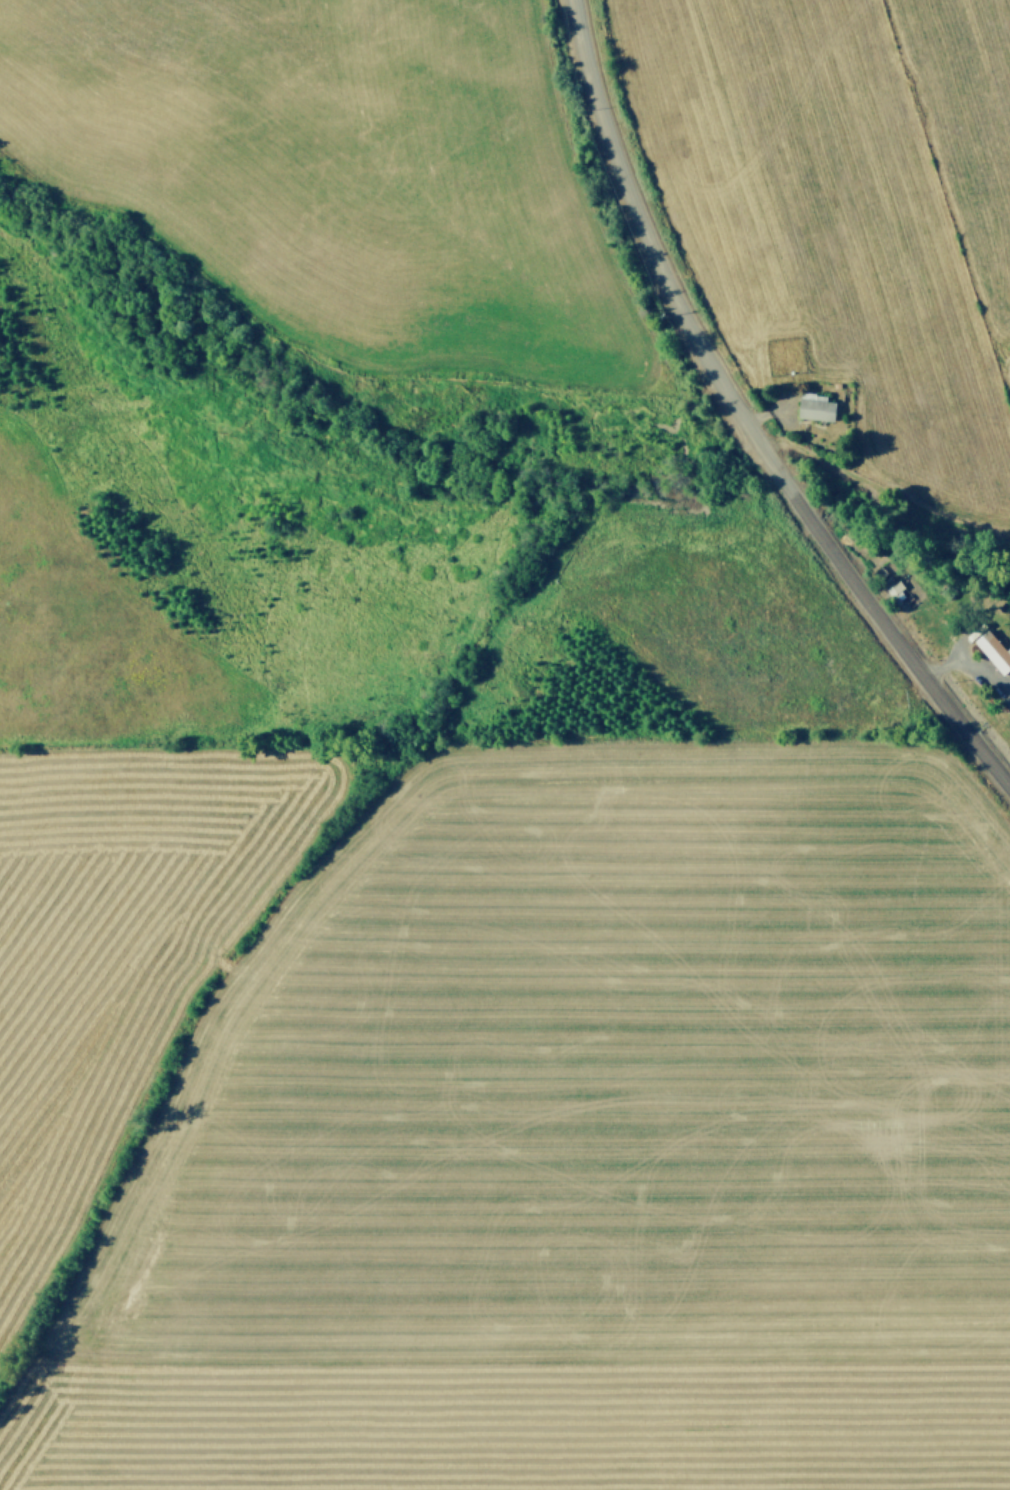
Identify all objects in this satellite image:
building: (813, 405)
road: (741, 420)
building: (897, 591)
building: (992, 648)
crop: (492, 749)

